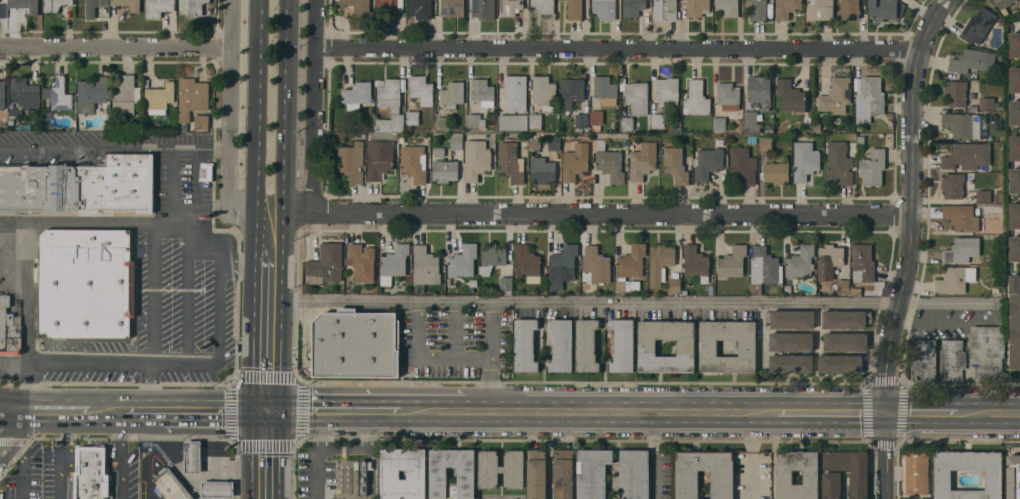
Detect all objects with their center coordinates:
building: (55, 4)
building: (26, 5)
building: (358, 5)
building: (544, 5)
building: (1003, 5)
building: (94, 6)
building: (157, 7)
building: (189, 7)
building: (389, 7)
building: (510, 7)
building: (633, 7)
building: (697, 7)
building: (728, 7)
building: (135, 8)
building: (420, 8)
building: (452, 8)
building: (604, 8)
building: (786, 8)
building: (483, 9)
building: (575, 9)
building: (665, 9)
building: (758, 9)
building: (820, 9)
building: (849, 9)
building: (882, 9)
building: (3, 10)
building: (978, 25)
building: (1015, 44)
road: (114, 47)
road: (619, 49)
building: (971, 60)
building: (1015, 79)
building: (421, 89)
building: (606, 89)
building: (667, 90)
building: (760, 90)
building: (483, 91)
building: (572, 91)
building: (516, 92)
building: (544, 92)
building: (956, 92)
building: (2, 93)
building: (26, 93)
building: (92, 93)
building: (836, 93)
building: (59, 94)
building: (127, 94)
building: (357, 94)
building: (453, 94)
building: (388, 95)
building: (728, 95)
building: (790, 95)
building: (159, 98)
building: (696, 98)
building: (869, 98)
building: (191, 99)
road: (258, 100)
building: (987, 103)
road: (316, 105)
building: (636, 105)
building: (1015, 111)
building: (413, 117)
building: (597, 117)
road: (228, 120)
building: (476, 120)
building: (535, 120)
building: (658, 120)
building: (201, 121)
building: (513, 121)
building: (582, 121)
building: (751, 121)
building: (443, 123)
building: (720, 123)
building: (966, 124)
building: (114, 125)
building: (409, 127)
building: (431, 127)
building: (817, 127)
road: (284, 128)
building: (369, 128)
building: (596, 128)
building: (768, 128)
building: (383, 135)
building: (401, 139)
building: (751, 139)
building: (861, 139)
building: (456, 140)
building: (534, 142)
building: (554, 142)
building: (766, 143)
building: (1015, 147)
road: (114, 150)
building: (439, 151)
building: (967, 155)
building: (379, 158)
building: (476, 158)
building: (351, 160)
building: (642, 160)
building: (804, 160)
building: (575, 161)
building: (609, 161)
building: (414, 162)
building: (511, 162)
building: (707, 162)
building: (839, 163)
building: (675, 164)
building: (743, 164)
building: (873, 166)
building: (542, 169)
building: (444, 170)
building: (206, 171)
building: (776, 172)
building: (1014, 180)
building: (102, 184)
road: (171, 185)
building: (953, 185)
building: (21, 188)
building: (983, 195)
road: (911, 203)
road: (597, 212)
building: (1014, 215)
building: (961, 216)
road: (129, 223)
road: (257, 228)
road: (197, 239)
building: (1014, 248)
building: (962, 249)
building: (492, 256)
road: (269, 257)
building: (463, 260)
building: (829, 260)
building: (361, 261)
building: (800, 261)
building: (660, 262)
building: (695, 262)
building: (733, 262)
building: (326, 263)
building: (394, 263)
building: (527, 263)
building: (863, 263)
building: (595, 265)
building: (563, 266)
building: (425, 268)
building: (630, 268)
building: (764, 269)
building: (954, 279)
building: (87, 282)
building: (473, 282)
building: (674, 284)
building: (506, 285)
building: (843, 286)
building: (374, 289)
building: (685, 291)
building: (856, 291)
road: (150, 293)
road: (625, 303)
road: (27, 304)
building: (790, 318)
building: (846, 318)
building: (1015, 322)
building: (9, 325)
road: (454, 330)
road: (254, 333)
road: (281, 333)
parking lot: (459, 341)
building: (791, 341)
building: (845, 341)
building: (356, 344)
building: (525, 344)
building: (561, 344)
building: (586, 344)
building: (623, 344)
building: (685, 346)
building: (708, 347)
road: (219, 350)
building: (987, 350)
road: (491, 356)
road: (427, 358)
building: (924, 359)
building: (952, 359)
road: (88, 363)
building: (791, 363)
building: (841, 363)
road: (14, 364)
road: (14, 409)
road: (75, 410)
road: (200, 410)
traffic signals: (252, 410)
road: (266, 410)
traffic signals: (281, 410)
road: (432, 410)
road: (621, 410)
road: (832, 410)
road: (135, 411)
road: (339, 411)
road: (922, 411)
road: (989, 411)
road: (14, 429)
road: (62, 454)
road: (252, 454)
road: (281, 454)
road: (752, 454)
road: (122, 455)
road: (314, 455)
road: (886, 455)
building: (193, 456)
building: (616, 461)
road: (22, 467)
building: (501, 468)
building: (93, 472)
building: (592, 472)
building: (917, 472)
building: (563, 473)
building: (362, 474)
building: (390, 474)
building: (537, 474)
building: (634, 474)
building: (438, 475)
building: (784, 476)
building: (1013, 476)
building: (942, 479)
building: (687, 483)
building: (831, 485)
building: (858, 485)
building: (171, 486)
building: (218, 488)

